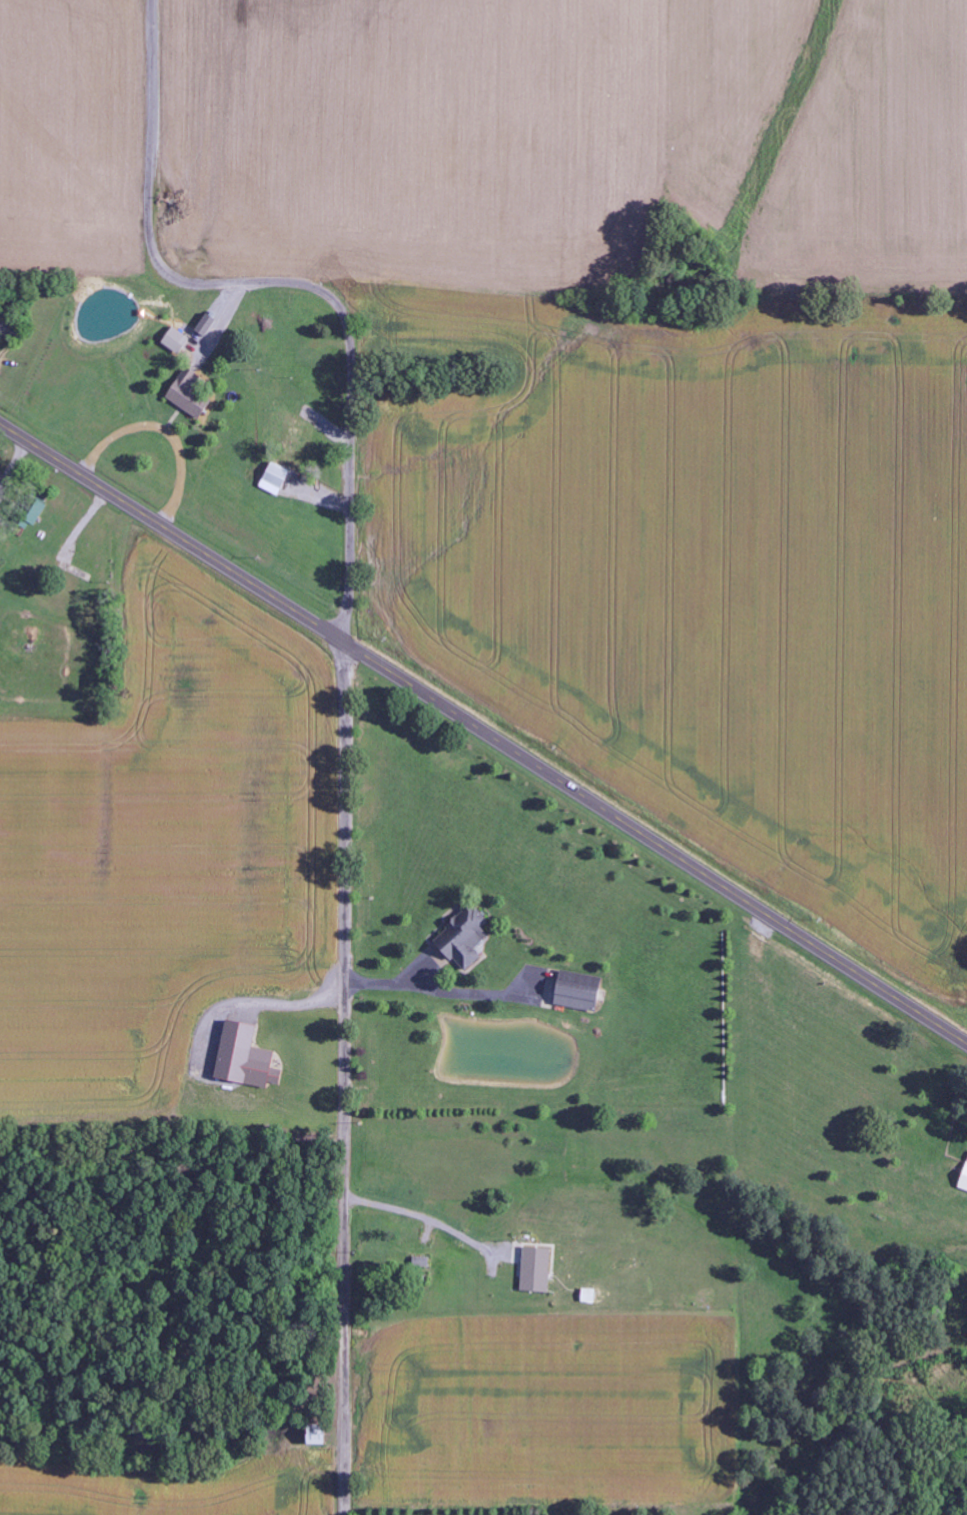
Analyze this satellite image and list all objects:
road: (284, 285)
building: (207, 325)
building: (177, 341)
building: (190, 394)
building: (276, 479)
road: (101, 582)
road: (483, 731)
building: (466, 937)
building: (580, 991)
building: (247, 1057)
road: (343, 1077)
building: (964, 1182)
building: (537, 1270)
building: (319, 1435)

